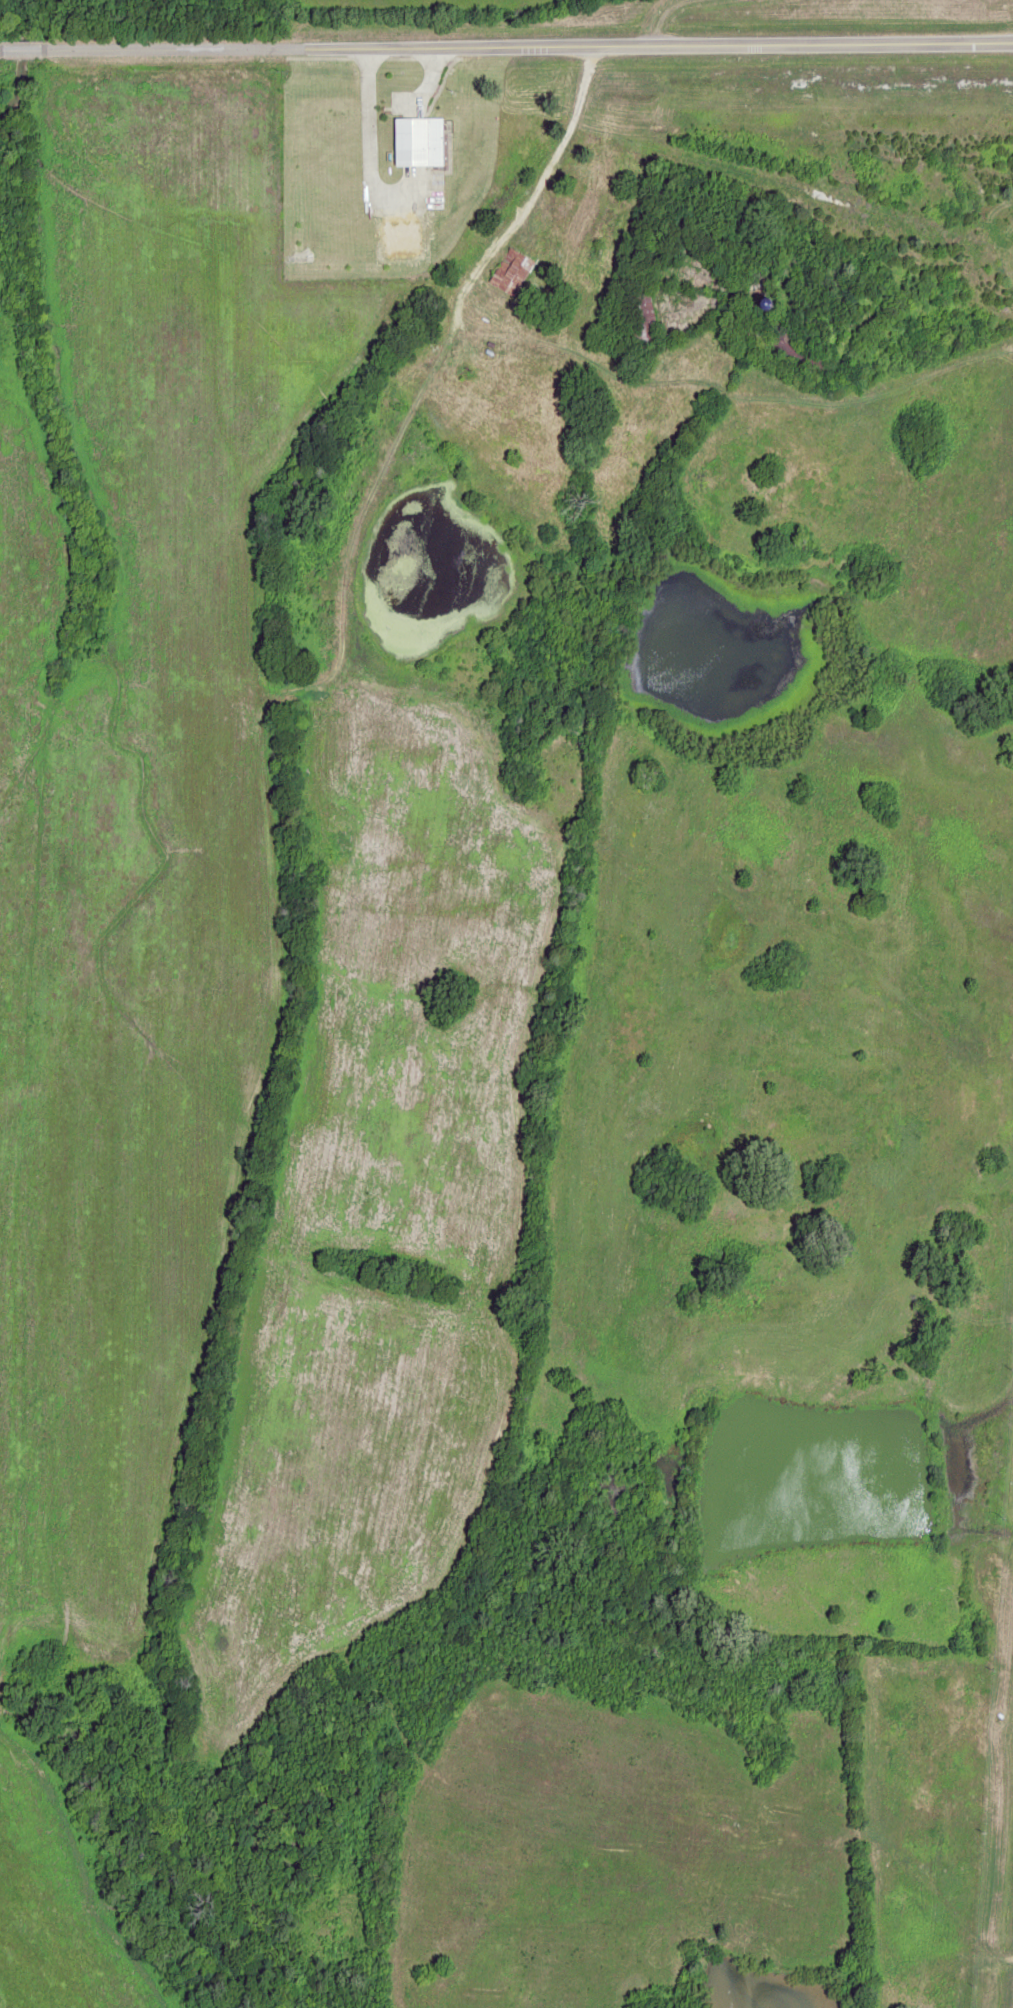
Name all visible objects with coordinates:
road: (660, 15)
road: (506, 46)
building: (418, 141)
road: (536, 191)
building: (510, 271)
building: (642, 318)

